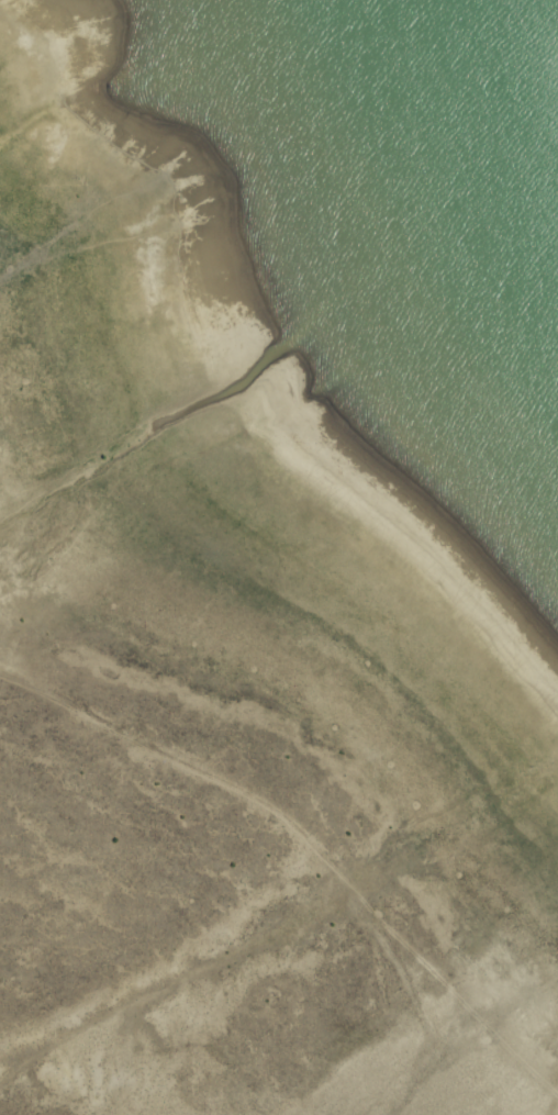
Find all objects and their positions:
road: (121, 743)

